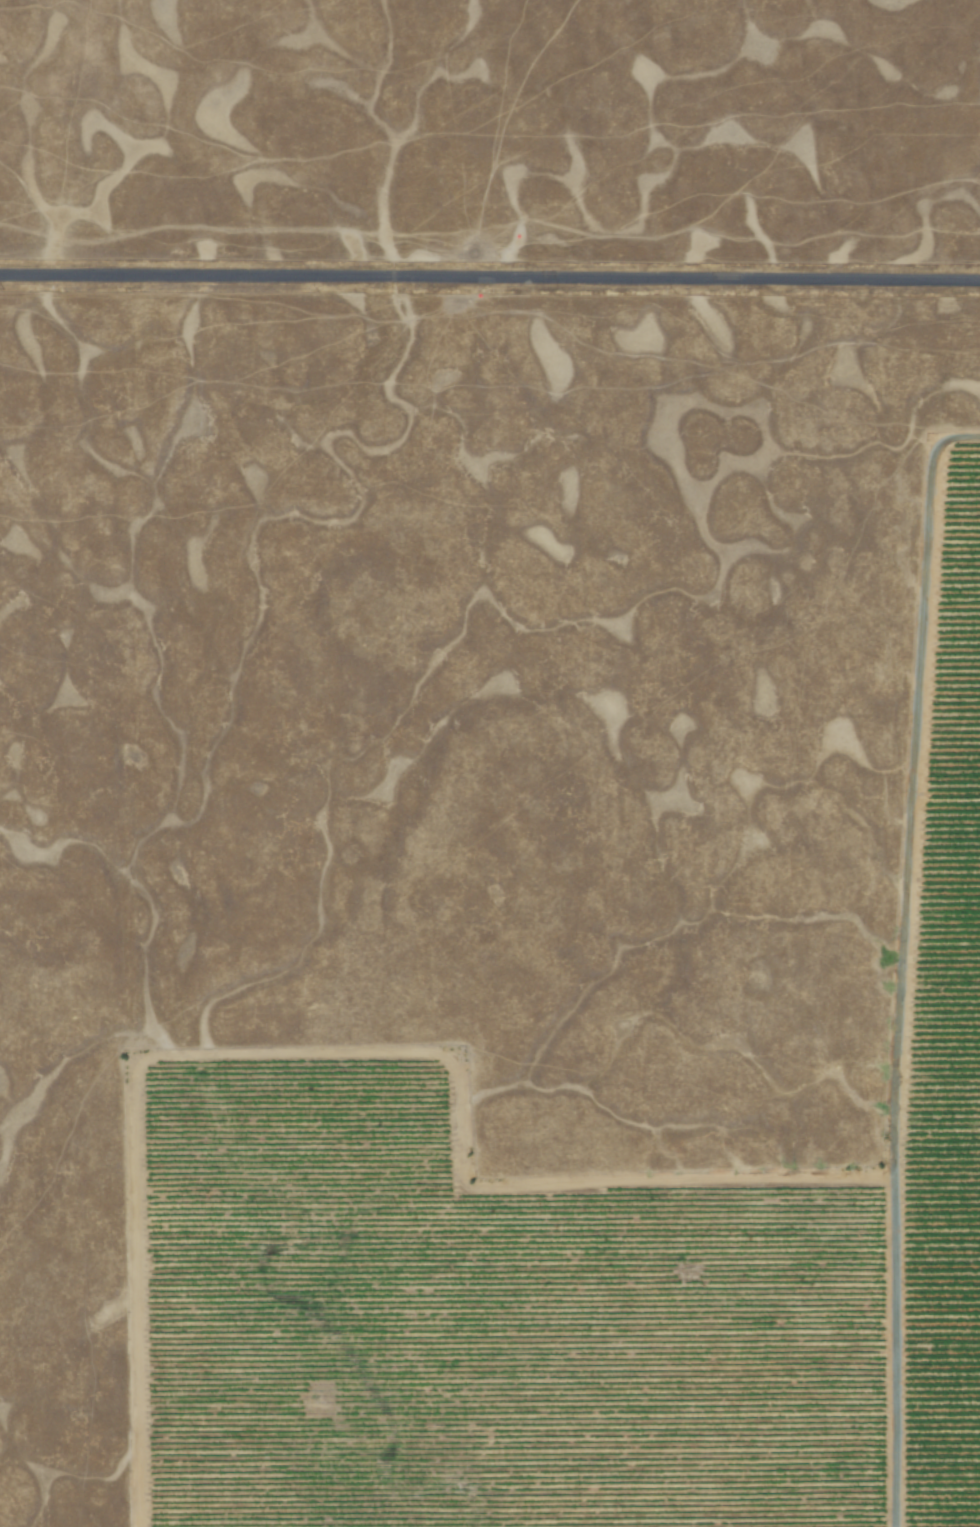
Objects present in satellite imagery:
road: (490, 276)

